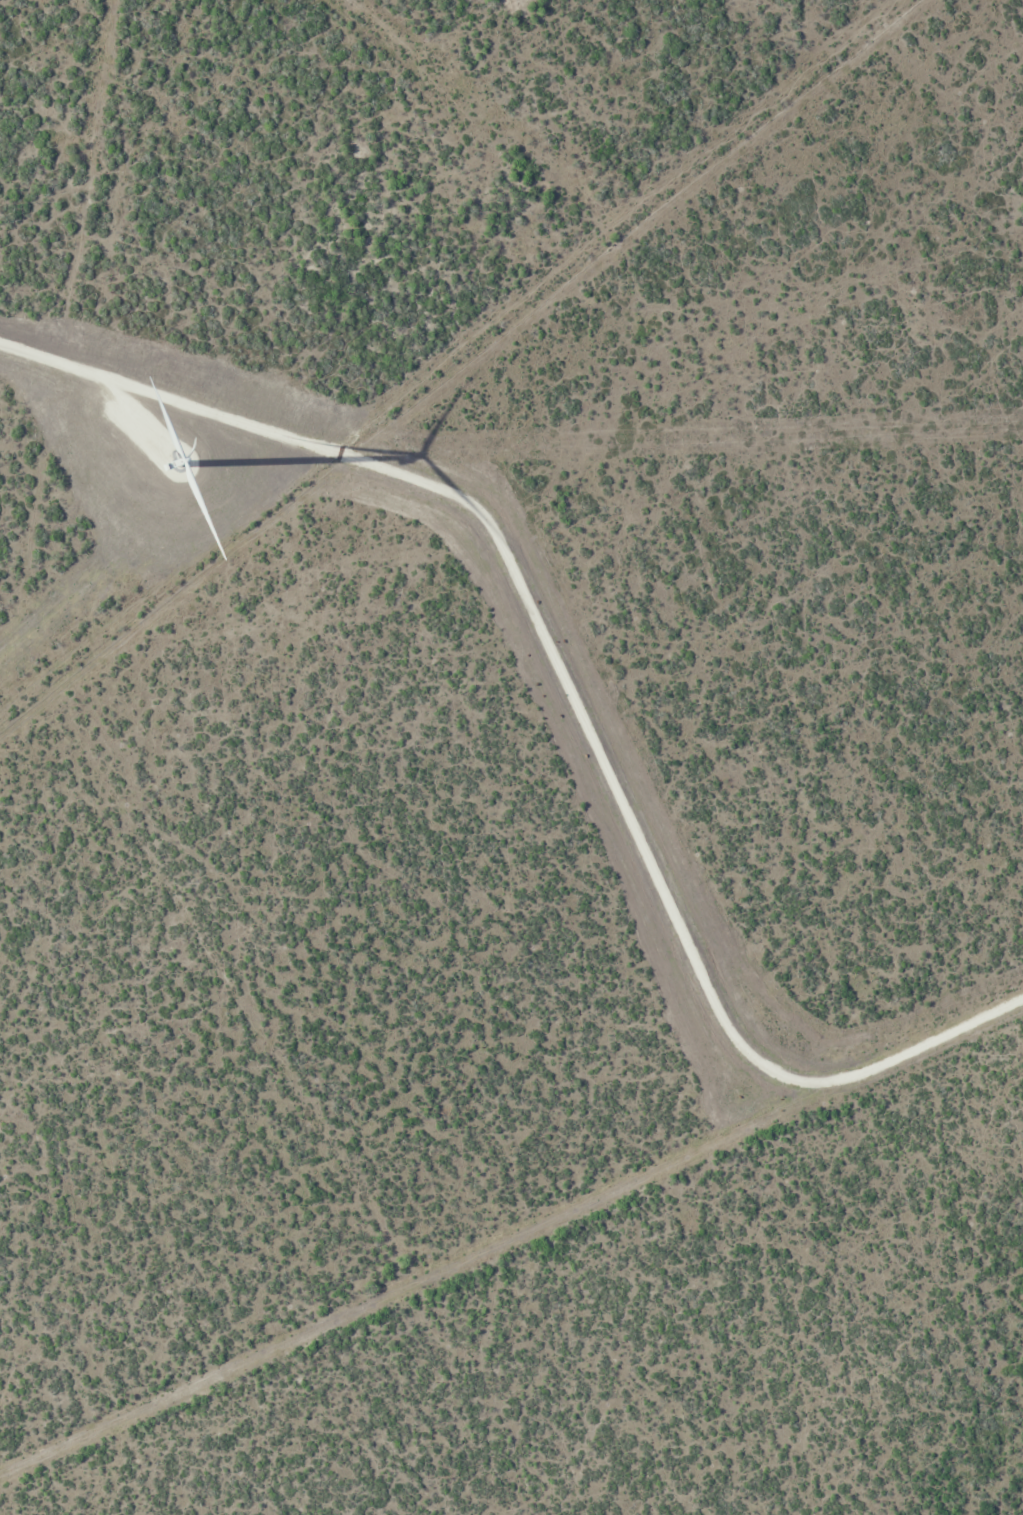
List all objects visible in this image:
wind turbine: (179, 459)

